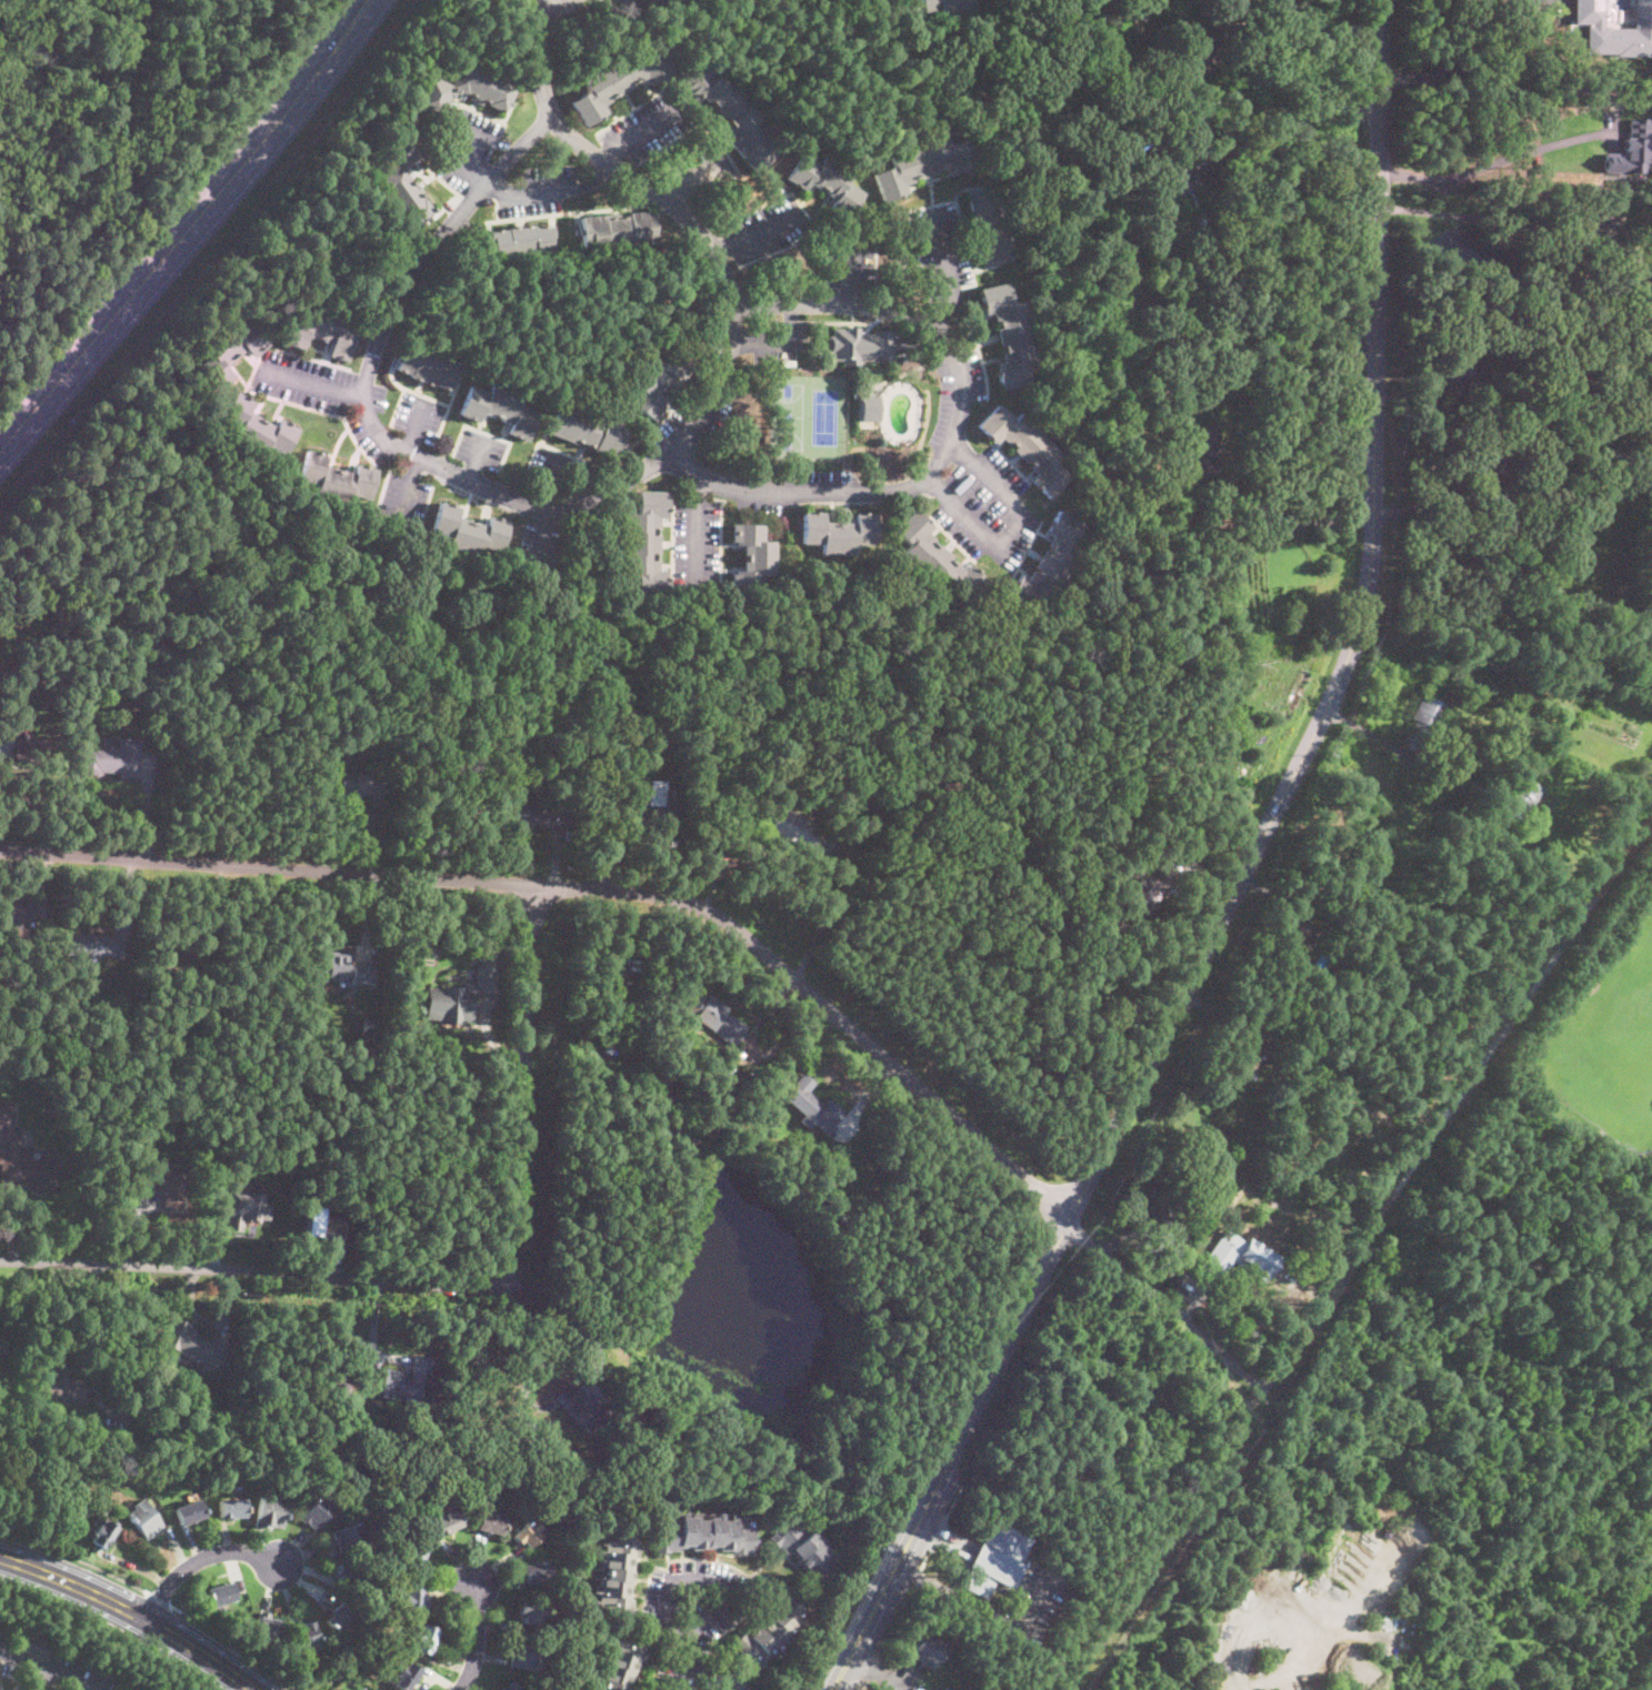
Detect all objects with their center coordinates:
building: (948, 7)
building: (1161, 8)
building: (1586, 10)
road: (1331, 21)
building: (1622, 34)
building: (1200, 56)
road: (538, 59)
road: (1468, 60)
road: (1299, 69)
building: (618, 81)
building: (464, 90)
building: (732, 113)
parking lot: (650, 124)
road: (640, 132)
building: (1145, 141)
parking lot: (464, 148)
building: (1633, 148)
road: (462, 160)
building: (923, 164)
road: (1480, 167)
building: (1184, 169)
parking lot: (704, 171)
road: (692, 174)
building: (406, 178)
building: (827, 181)
parking lot: (537, 190)
road: (551, 190)
building: (1140, 204)
road: (1481, 215)
building: (991, 225)
road: (189, 229)
parking lot: (765, 229)
building: (618, 231)
road: (758, 231)
building: (521, 241)
building: (1098, 242)
building: (900, 252)
parking lot: (941, 252)
parking lot: (851, 258)
building: (767, 262)
road: (850, 270)
road: (945, 274)
building: (1636, 285)
road: (1260, 311)
building: (321, 331)
building: (1009, 334)
parking lot: (779, 340)
road: (781, 342)
parking lot: (717, 345)
building: (861, 345)
building: (229, 351)
parking lot: (972, 365)
building: (427, 366)
building: (1463, 370)
parking lot: (304, 381)
building: (655, 381)
road: (316, 384)
parking lot: (377, 396)
building: (871, 408)
building: (500, 409)
parking lot: (942, 409)
parking lot: (721, 411)
park: (788, 414)
park: (827, 415)
parking lot: (420, 416)
road: (417, 425)
parking lot: (667, 425)
building: (257, 427)
building: (588, 430)
road: (955, 436)
parking lot: (368, 440)
building: (1027, 446)
parking lot: (480, 449)
building: (445, 450)
building: (1207, 450)
road: (479, 460)
parking lot: (553, 470)
building: (1499, 471)
building: (735, 474)
parking lot: (798, 474)
building: (336, 479)
road: (553, 483)
road: (408, 493)
building: (1164, 495)
parking lot: (403, 504)
parking lot: (760, 505)
road: (551, 506)
parking lot: (987, 506)
building: (1101, 507)
road: (1306, 522)
road: (697, 529)
road: (1014, 530)
building: (469, 531)
building: (839, 532)
road: (540, 536)
building: (645, 543)
parking lot: (697, 543)
building: (1180, 544)
parking lot: (539, 547)
building: (752, 557)
building: (1203, 557)
building: (937, 560)
building: (1050, 563)
building: (1148, 565)
building: (1516, 680)
building: (129, 688)
building: (1423, 725)
building: (26, 751)
building: (111, 758)
building: (360, 786)
building: (1524, 793)
building: (1422, 794)
building: (650, 805)
building: (1510, 814)
building: (541, 816)
building: (792, 827)
road: (1241, 878)
road: (592, 886)
building: (1151, 891)
building: (14, 915)
building: (1298, 932)
building: (94, 946)
building: (169, 957)
building: (346, 968)
building: (612, 973)
building: (461, 995)
building: (714, 1016)
building: (368, 1027)
building: (1253, 1052)
building: (358, 1063)
building: (662, 1090)
building: (170, 1095)
road: (1456, 1097)
building: (812, 1104)
building: (6, 1117)
building: (156, 1130)
building: (674, 1130)
building: (31, 1168)
building: (167, 1178)
building: (241, 1206)
building: (1155, 1208)
building: (320, 1223)
building: (1223, 1254)
road: (460, 1286)
road: (1171, 1306)
building: (196, 1345)
building: (2, 1348)
road: (593, 1362)
building: (406, 1380)
building: (61, 1387)
building: (588, 1414)
building: (424, 1426)
building: (531, 1427)
building: (81, 1443)
building: (178, 1469)
building: (139, 1479)
building: (231, 1508)
building: (481, 1508)
building: (317, 1510)
building: (189, 1512)
building: (270, 1512)
building: (143, 1518)
building: (447, 1522)
building: (491, 1522)
building: (529, 1533)
building: (102, 1535)
building: (705, 1535)
building: (351, 1536)
road: (1173, 1545)
building: (807, 1550)
building: (414, 1555)
road: (199, 1558)
road: (77, 1559)
building: (998, 1559)
building: (534, 1571)
building: (349, 1573)
building: (617, 1576)
road: (697, 1578)
building: (220, 1595)
building: (412, 1598)
road: (162, 1599)
building: (1071, 1599)
road: (852, 1601)
building: (532, 1611)
road: (133, 1613)
building: (1069, 1616)
building: (340, 1617)
building: (240, 1618)
building: (267, 1627)
road: (109, 1629)
building: (772, 1629)
building: (379, 1632)
building: (307, 1636)
road: (474, 1638)
building: (424, 1639)
building: (31, 1643)
road: (236, 1647)
building: (928, 1651)
building: (528, 1658)
building: (620, 1662)
road: (1242, 1662)
building: (342, 1664)
road: (683, 1666)
road: (42, 1667)
building: (353, 1670)
road: (875, 1672)
building: (407, 1676)
road: (42, 1679)
building: (730, 1682)
building: (131, 1687)
building: (512, 1687)
building: (953, 1688)
building: (376, 1689)
road: (1651, 1689)

